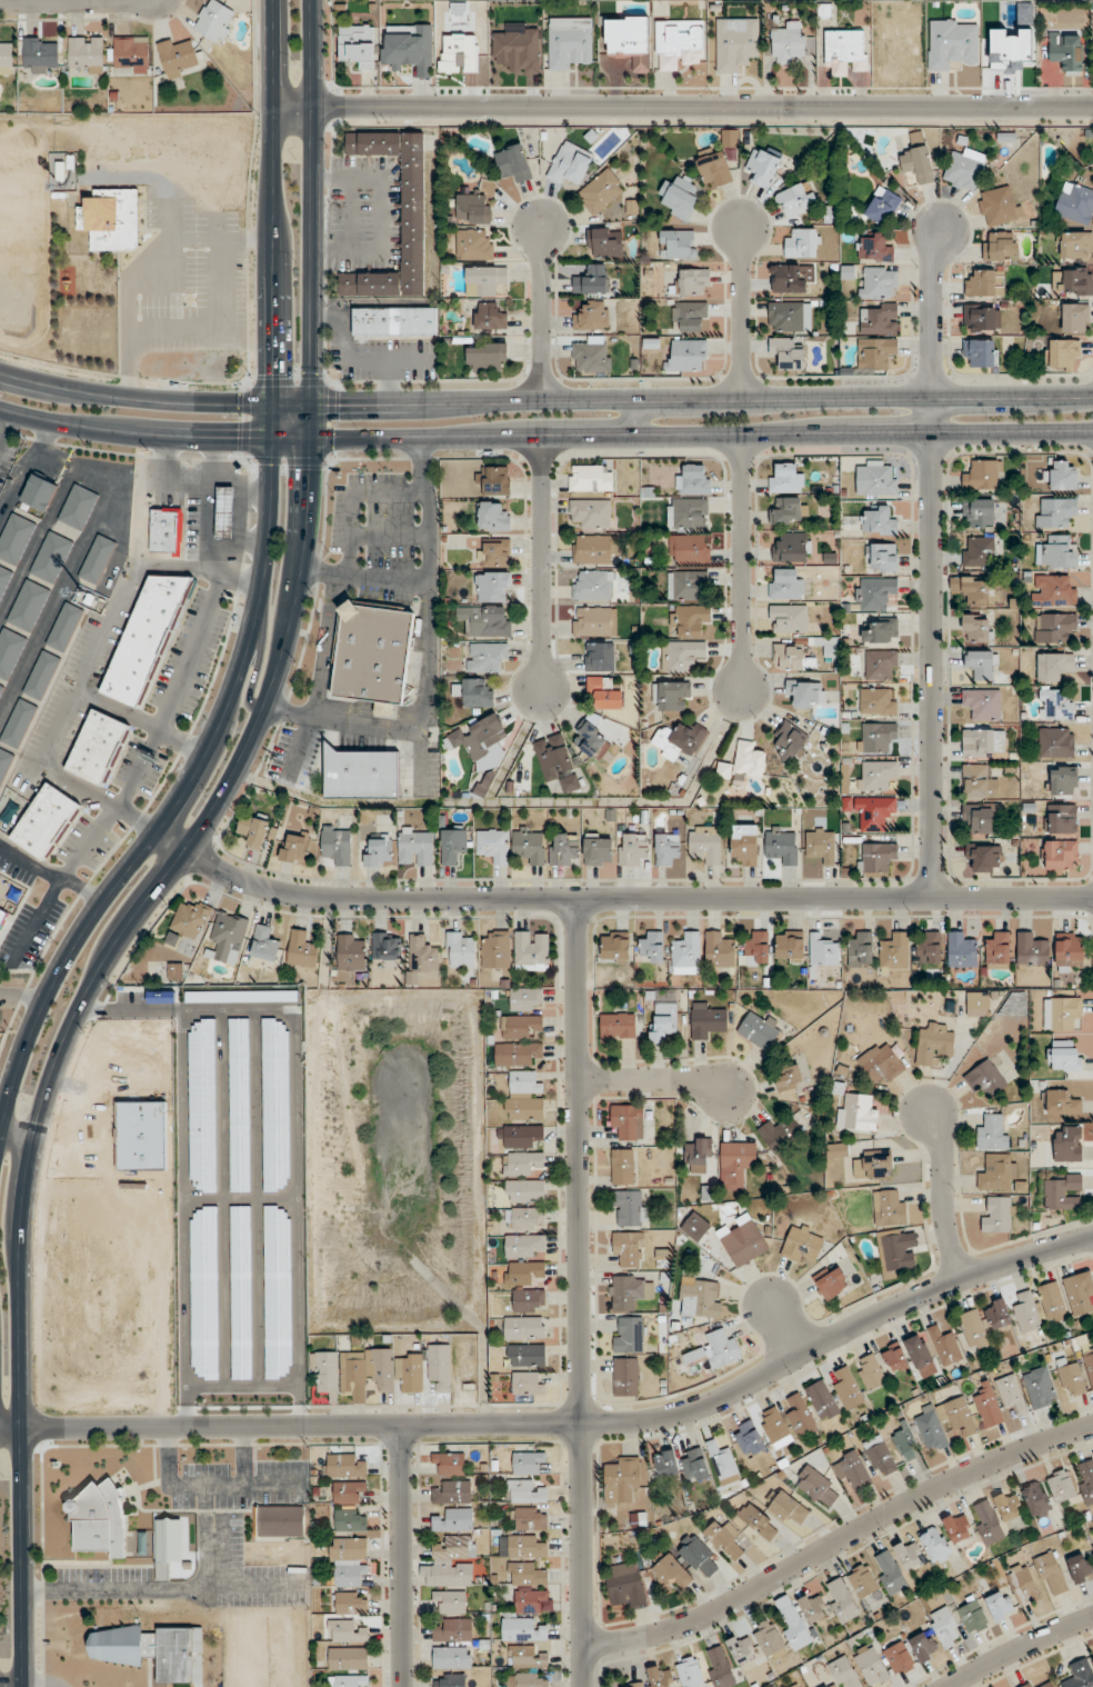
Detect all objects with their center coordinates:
road: (64, 0)
building: (214, 21)
building: (629, 41)
building: (569, 42)
building: (788, 42)
building: (952, 42)
building: (678, 43)
building: (735, 43)
building: (358, 46)
building: (408, 48)
building: (845, 51)
building: (1066, 52)
building: (41, 54)
building: (86, 54)
building: (130, 54)
building: (6, 56)
building: (178, 57)
road: (683, 107)
building: (730, 138)
building: (917, 160)
building: (513, 162)
building: (570, 163)
building: (762, 167)
building: (714, 169)
building: (965, 169)
road: (150, 178)
building: (601, 191)
building: (679, 198)
building: (796, 199)
building: (1075, 204)
building: (882, 206)
building: (1000, 206)
building: (473, 209)
building: (413, 213)
building: (111, 219)
building: (604, 242)
building: (678, 243)
building: (802, 243)
building: (473, 246)
building: (1076, 246)
building: (1000, 247)
building: (874, 248)
road: (146, 264)
building: (791, 279)
building: (484, 280)
building: (591, 280)
building: (1072, 281)
building: (693, 282)
building: (984, 282)
building: (878, 283)
road: (539, 312)
road: (740, 313)
road: (218, 316)
building: (592, 316)
building: (690, 316)
building: (489, 317)
building: (789, 317)
building: (981, 317)
building: (1073, 318)
building: (879, 319)
building: (394, 321)
building: (876, 352)
building: (788, 353)
building: (980, 353)
building: (1062, 353)
building: (485, 356)
building: (591, 357)
building: (686, 357)
traffic signals: (273, 375)
road: (544, 400)
traffic signals: (335, 402)
road: (640, 418)
road: (4, 425)
road: (544, 436)
traffic signals: (241, 438)
road: (207, 463)
traffic signals: (310, 468)
building: (983, 476)
building: (1063, 476)
building: (591, 478)
building: (785, 478)
building: (875, 479)
building: (495, 480)
building: (694, 480)
road: (191, 487)
building: (39, 492)
road: (351, 500)
building: (78, 507)
building: (789, 511)
building: (224, 512)
building: (686, 512)
building: (1054, 512)
building: (591, 513)
building: (979, 513)
building: (493, 518)
building: (879, 520)
road: (205, 529)
building: (166, 530)
road: (239, 533)
road: (390, 536)
building: (14, 538)
road: (252, 542)
building: (792, 548)
building: (592, 549)
building: (689, 549)
building: (493, 552)
building: (979, 552)
building: (1059, 552)
building: (51, 557)
building: (882, 557)
building: (97, 559)
road: (929, 561)
road: (741, 562)
road: (541, 563)
road: (363, 577)
building: (3, 580)
building: (785, 583)
building: (593, 586)
building: (688, 586)
building: (492, 587)
building: (977, 590)
building: (1053, 590)
road: (258, 593)
building: (874, 593)
building: (28, 606)
road: (428, 615)
building: (788, 619)
building: (485, 620)
building: (690, 620)
road: (108, 622)
building: (594, 623)
building: (64, 627)
building: (1054, 627)
building: (975, 628)
building: (882, 631)
building: (147, 639)
building: (830, 648)
building: (10, 651)
building: (373, 655)
building: (682, 656)
building: (485, 657)
building: (599, 658)
building: (792, 658)
road: (254, 662)
building: (881, 665)
building: (981, 665)
building: (1053, 666)
building: (41, 676)
road: (321, 678)
building: (1, 688)
building: (604, 692)
building: (474, 693)
building: (805, 693)
building: (671, 697)
building: (878, 701)
building: (983, 703)
building: (1055, 705)
road: (139, 721)
road: (340, 722)
building: (18, 723)
building: (479, 737)
building: (875, 737)
building: (591, 740)
building: (679, 740)
building: (983, 742)
building: (1056, 742)
building: (97, 747)
building: (553, 757)
building: (744, 763)
building: (361, 773)
building: (875, 775)
road: (132, 776)
building: (1063, 780)
building: (979, 782)
building: (484, 785)
road: (98, 796)
building: (874, 812)
building: (981, 818)
building: (1061, 819)
building: (46, 821)
building: (253, 830)
building: (452, 843)
building: (337, 845)
building: (705, 845)
building: (743, 845)
building: (821, 845)
building: (493, 846)
building: (529, 846)
building: (782, 846)
building: (415, 847)
building: (563, 849)
building: (633, 849)
building: (668, 849)
building: (598, 850)
building: (379, 851)
road: (187, 852)
building: (1061, 856)
building: (876, 858)
building: (984, 858)
road: (49, 874)
building: (3, 897)
road: (615, 898)
building: (190, 919)
building: (228, 936)
building: (264, 944)
building: (385, 946)
building: (615, 946)
building: (756, 946)
building: (651, 947)
building: (789, 947)
building: (929, 947)
building: (302, 949)
building: (460, 949)
building: (495, 949)
building: (860, 949)
building: (997, 949)
building: (719, 950)
building: (961, 950)
building: (1032, 950)
building: (1070, 950)
building: (351, 951)
building: (532, 951)
building: (823, 951)
building: (894, 951)
building: (686, 954)
building: (421, 958)
building: (174, 971)
road: (20, 996)
building: (525, 999)
building: (977, 1004)
building: (1015, 1004)
building: (1061, 1012)
building: (663, 1016)
building: (708, 1020)
building: (519, 1026)
building: (616, 1028)
building: (759, 1029)
building: (934, 1044)
building: (515, 1054)
building: (1063, 1057)
building: (881, 1064)
building: (789, 1078)
road: (652, 1079)
building: (985, 1079)
building: (524, 1096)
building: (1062, 1104)
building: (856, 1112)
building: (628, 1121)
building: (776, 1135)
building: (992, 1135)
building: (519, 1136)
road: (16, 1138)
building: (1067, 1144)
building: (698, 1156)
building: (521, 1162)
building: (735, 1164)
building: (874, 1166)
building: (622, 1167)
building: (997, 1174)
building: (524, 1191)
building: (1062, 1191)
road: (941, 1194)
building: (629, 1208)
building: (889, 1208)
building: (996, 1214)
building: (524, 1218)
building: (695, 1227)
building: (742, 1240)
building: (802, 1245)
building: (524, 1246)
building: (629, 1248)
building: (896, 1252)
building: (662, 1257)
building: (524, 1274)
building: (831, 1282)
road: (579, 1291)
building: (628, 1291)
building: (1080, 1294)
building: (700, 1298)
building: (529, 1300)
building: (1051, 1302)
building: (1026, 1314)
building: (999, 1315)
road: (782, 1326)
building: (523, 1328)
building: (973, 1330)
building: (629, 1335)
building: (944, 1347)
building: (722, 1348)
building: (525, 1355)
building: (920, 1356)
building: (896, 1358)
building: (1089, 1364)
building: (440, 1365)
building: (381, 1370)
building: (871, 1371)
building: (325, 1374)
building: (625, 1376)
building: (1071, 1379)
building: (528, 1382)
building: (1040, 1388)
building: (848, 1389)
building: (1011, 1392)
building: (822, 1400)
building: (987, 1407)
building: (800, 1414)
road: (564, 1424)
building: (930, 1424)
building: (775, 1428)
building: (749, 1438)
building: (906, 1444)
road: (243, 1456)
building: (881, 1457)
building: (450, 1463)
building: (527, 1463)
building: (723, 1463)
building: (666, 1464)
building: (694, 1465)
building: (343, 1466)
building: (852, 1470)
building: (621, 1480)
building: (1085, 1481)
road: (209, 1486)
building: (1061, 1486)
building: (816, 1487)
building: (348, 1493)
building: (453, 1493)
building: (524, 1493)
building: (1036, 1499)
building: (1009, 1506)
building: (788, 1508)
building: (529, 1519)
building: (100, 1520)
building: (350, 1520)
building: (454, 1520)
building: (280, 1521)
building: (759, 1521)
building: (987, 1521)
building: (957, 1527)
building: (728, 1539)
road: (839, 1540)
building: (935, 1545)
building: (521, 1547)
building: (455, 1548)
building: (909, 1554)
road: (401, 1556)
building: (698, 1556)
building: (349, 1561)
building: (1081, 1566)
building: (672, 1570)
building: (890, 1573)
building: (452, 1575)
building: (525, 1575)
building: (1051, 1575)
building: (863, 1580)
building: (1023, 1584)
road: (253, 1585)
building: (625, 1585)
road: (163, 1590)
building: (842, 1599)
building: (451, 1601)
building: (532, 1601)
building: (350, 1603)
building: (1000, 1605)
building: (813, 1607)
building: (973, 1617)
building: (794, 1627)
building: (945, 1627)
building: (522, 1629)
building: (454, 1630)
building: (345, 1631)
building: (768, 1639)
building: (923, 1647)
building: (741, 1648)
road: (1016, 1648)
building: (152, 1651)
building: (451, 1657)
building: (525, 1657)
building: (899, 1658)
building: (348, 1659)
building: (871, 1665)
building: (719, 1667)
building: (690, 1673)
building: (844, 1673)
building: (1079, 1675)
building: (660, 1676)
building: (449, 1680)
building: (528, 1680)
building: (349, 1681)
building: (633, 1685)
building: (1033, 1685)
building: (1047, 1685)
road: (11, 1686)
road: (29, 1686)
building: (796, 1686)
building: (828, 1686)

